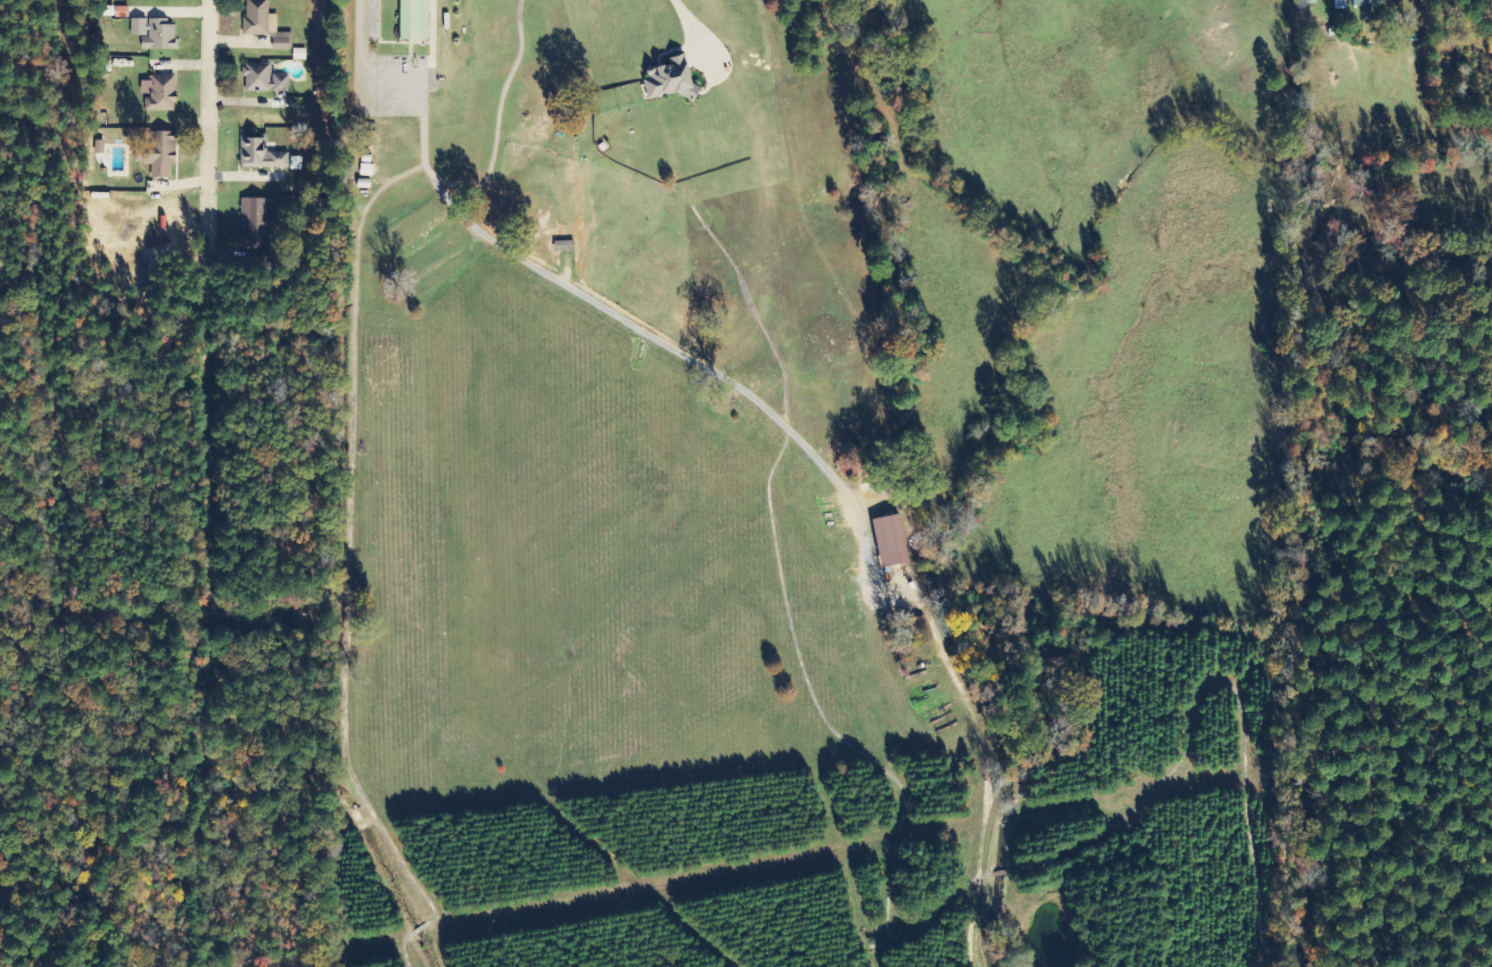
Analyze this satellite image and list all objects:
building: (1367, 3)
building: (414, 20)
building: (264, 24)
building: (154, 34)
building: (299, 55)
building: (264, 80)
building: (671, 80)
building: (160, 93)
road: (207, 122)
building: (99, 148)
building: (260, 154)
building: (160, 155)
building: (295, 164)
building: (255, 219)
building: (564, 247)
building: (891, 541)

